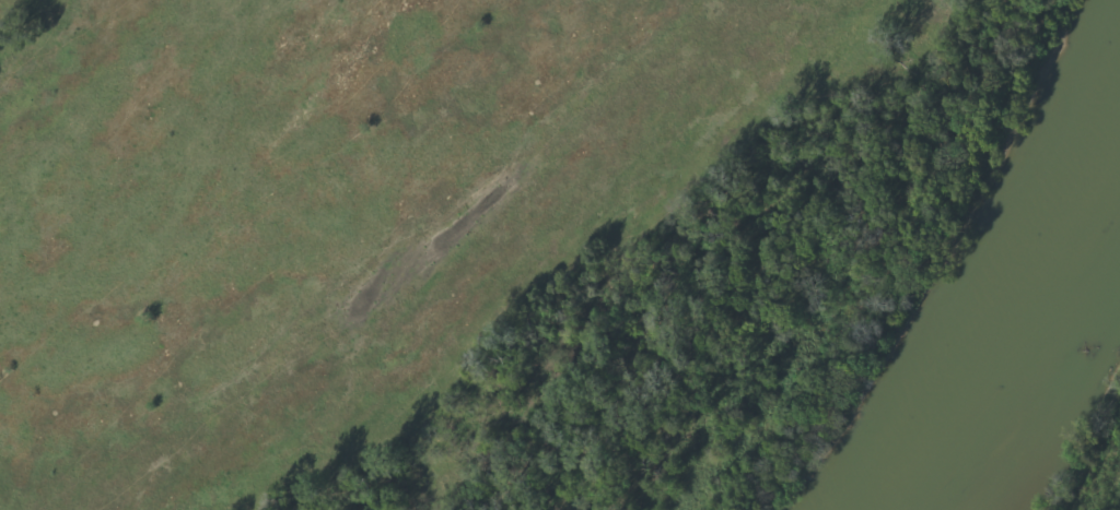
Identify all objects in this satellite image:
river: (1014, 270)

